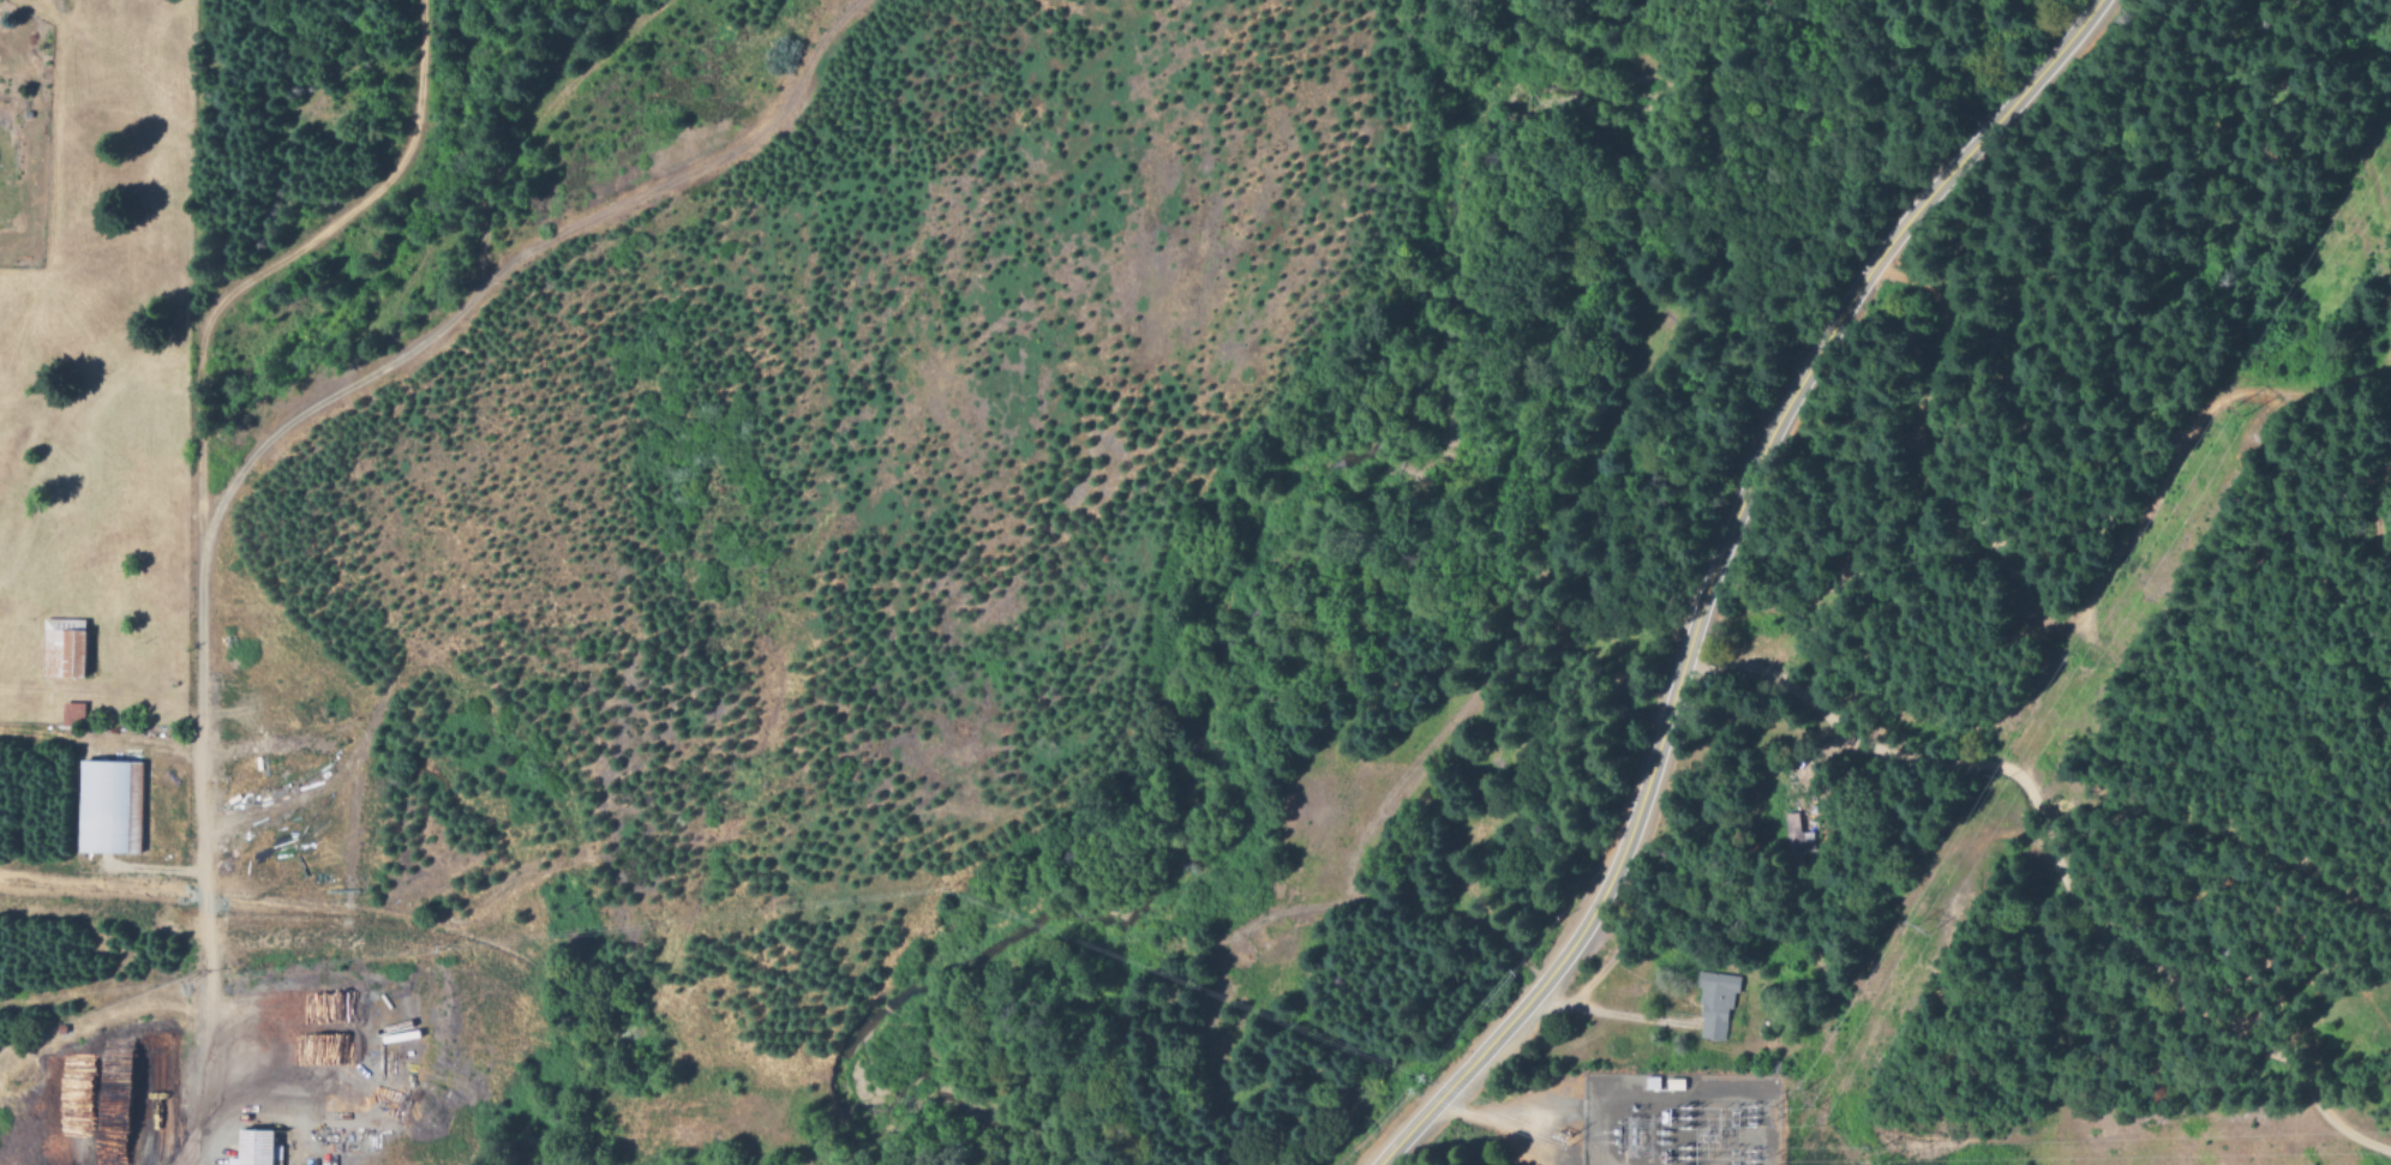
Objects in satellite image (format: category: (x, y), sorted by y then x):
road: (276, 263)
power tower: (2229, 409)
road: (274, 438)
road: (1713, 568)
building: (65, 649)
building: (72, 715)
building: (106, 809)
power tower: (1914, 930)
building: (1713, 1007)
power tower: (1804, 1101)
power substation: (1679, 1119)
building: (258, 1148)
power tower: (1877, 1161)

